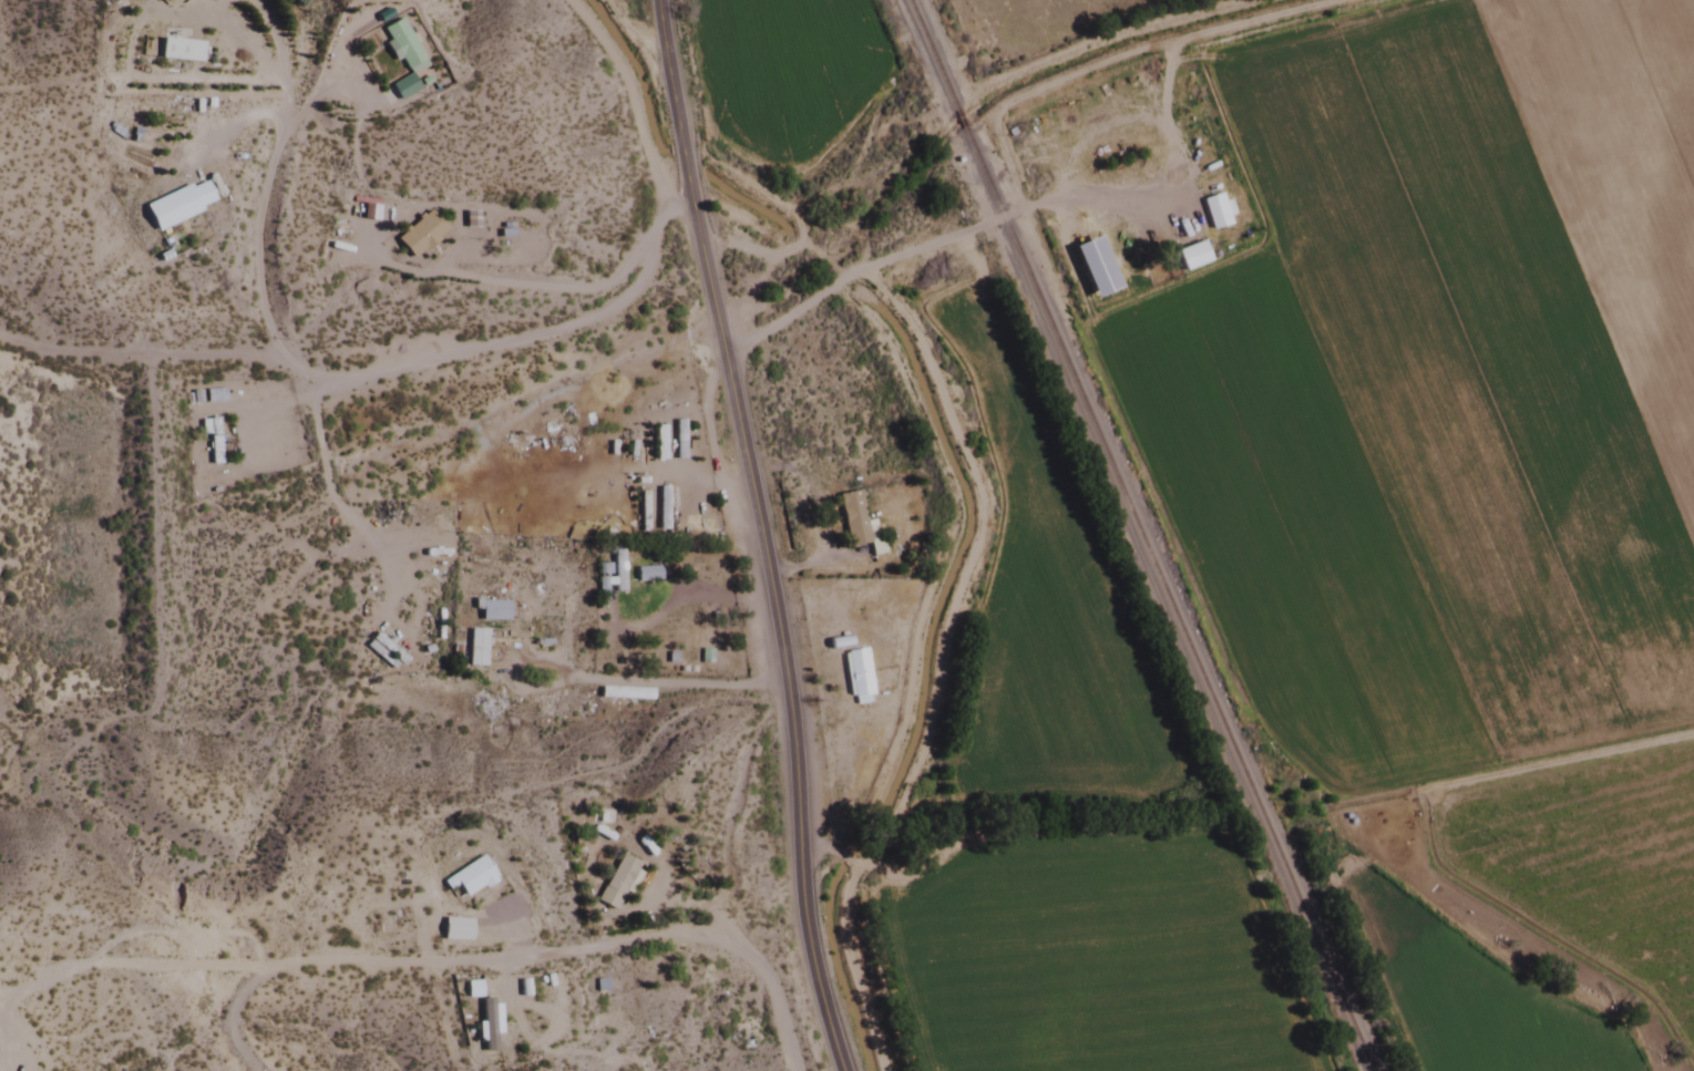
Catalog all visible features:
road: (625, 32)
building: (399, 48)
building: (168, 50)
railway: (930, 54)
road: (626, 104)
railway: (957, 121)
road: (258, 186)
building: (176, 205)
road: (731, 217)
road: (788, 219)
building: (1214, 224)
building: (503, 234)
building: (417, 235)
building: (1092, 267)
road: (858, 270)
road: (741, 295)
road: (368, 371)
building: (213, 397)
building: (209, 439)
road: (315, 464)
building: (661, 509)
building: (644, 513)
building: (854, 523)
road: (750, 534)
road: (935, 562)
building: (616, 570)
building: (646, 574)
railway: (1164, 599)
building: (491, 611)
building: (387, 649)
building: (474, 649)
road: (934, 663)
building: (855, 674)
road: (823, 853)
building: (468, 878)
building: (615, 883)
road: (511, 955)

